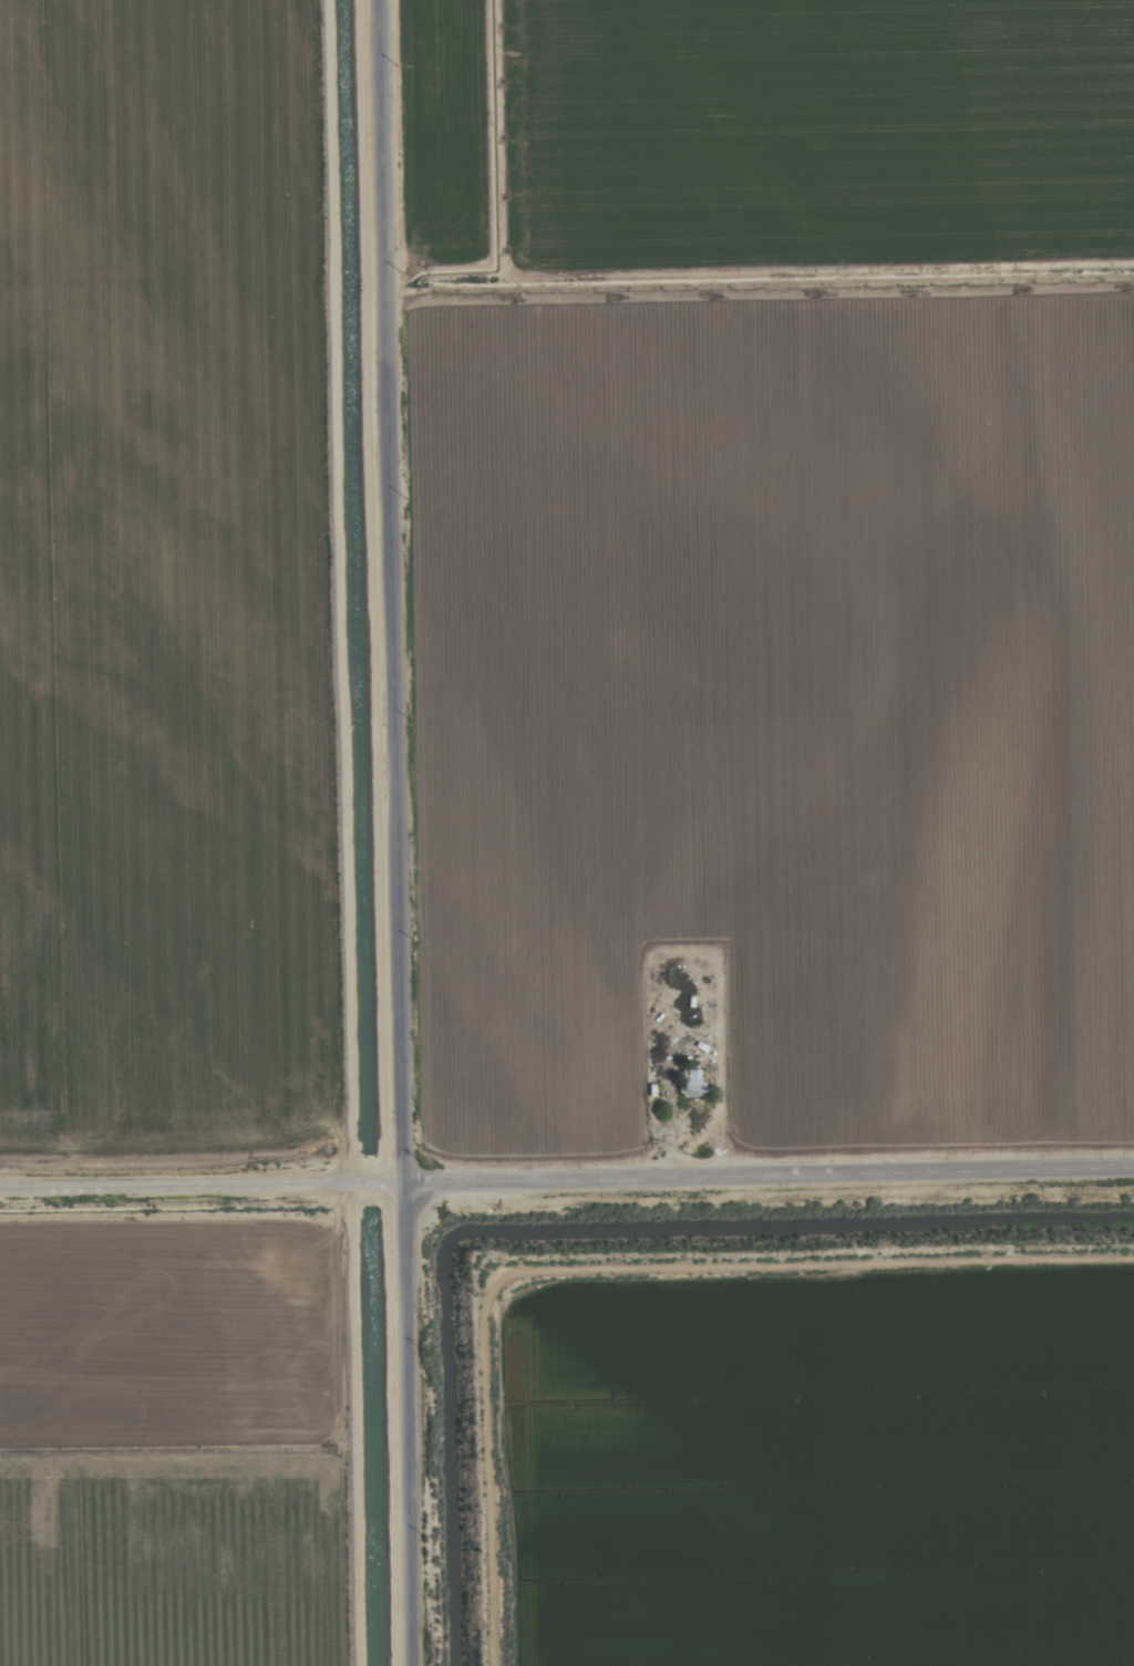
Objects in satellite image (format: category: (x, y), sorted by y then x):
road: (394, 832)
building: (692, 1083)
road: (566, 1186)

